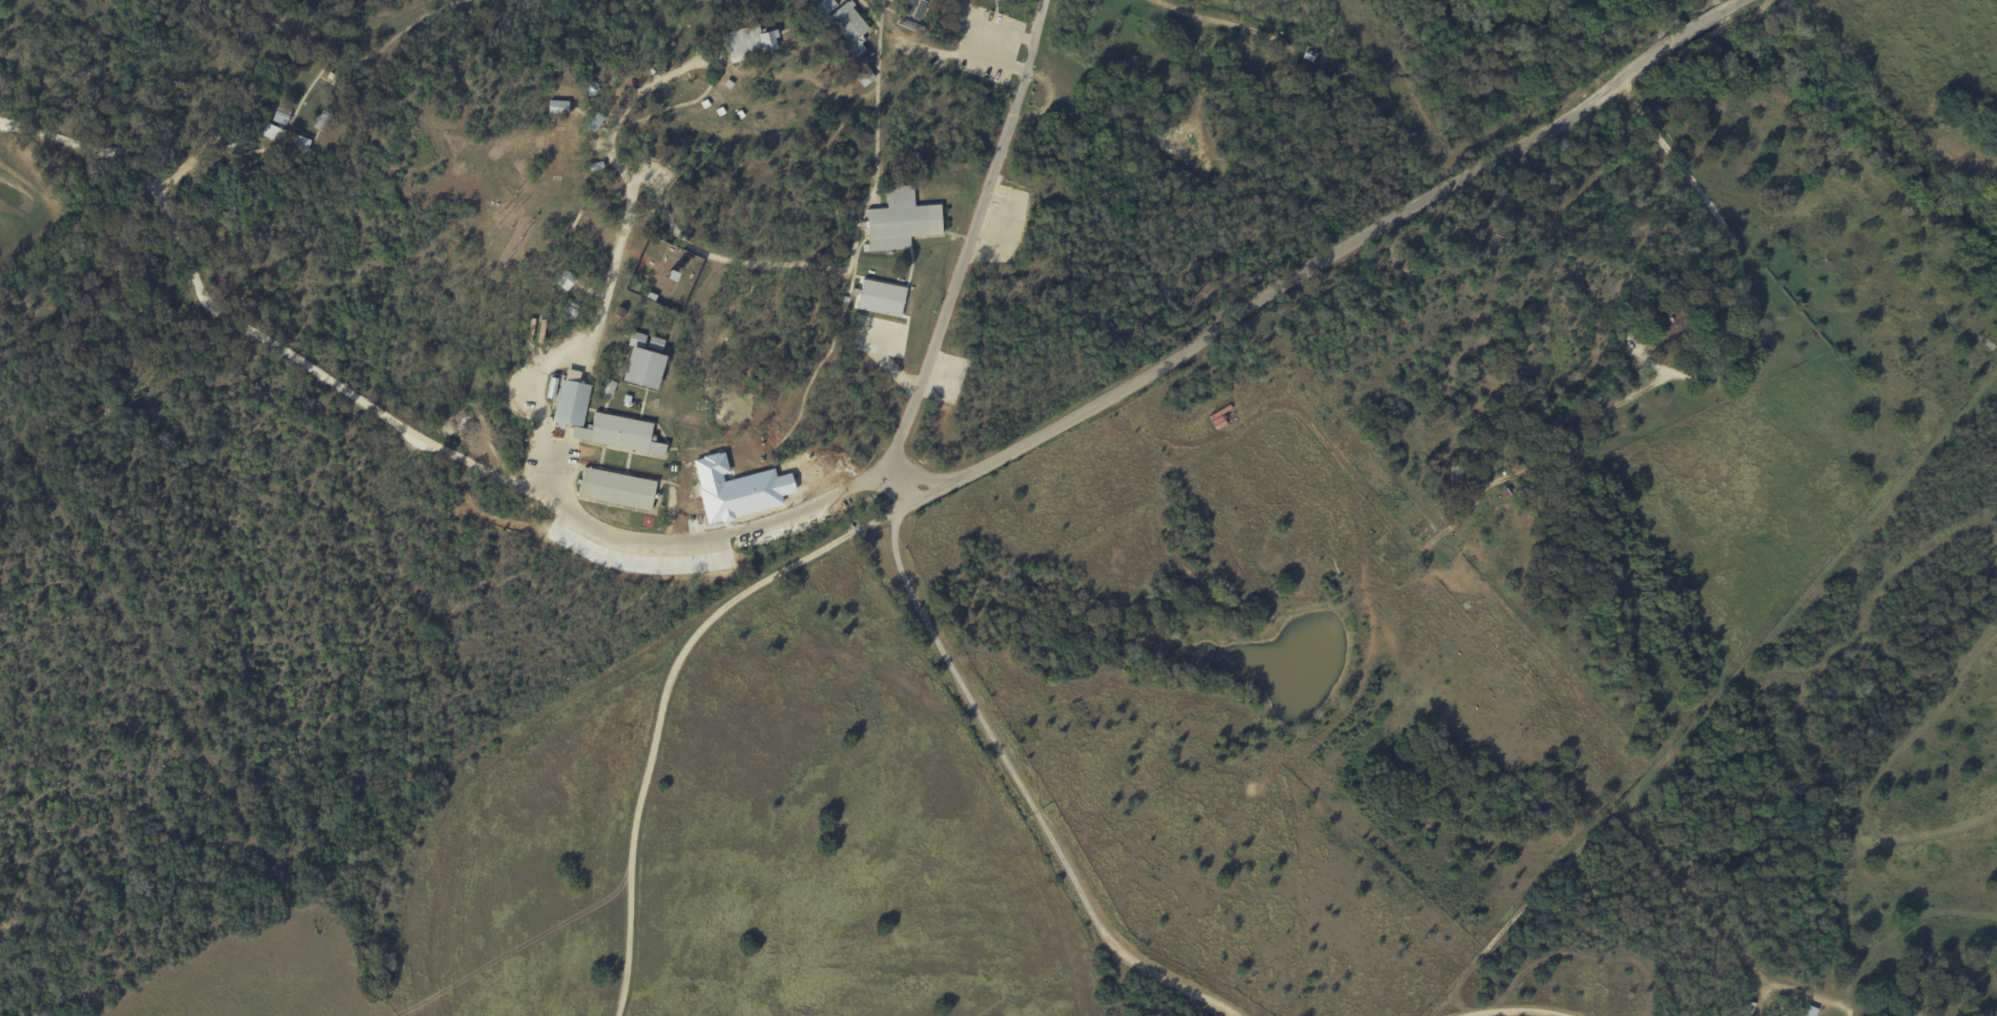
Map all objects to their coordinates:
building: (825, 7)
building: (909, 7)
road: (970, 27)
building: (850, 28)
building: (747, 42)
building: (865, 76)
building: (557, 107)
building: (281, 116)
building: (592, 122)
building: (274, 132)
building: (300, 142)
road: (1737, 191)
building: (900, 220)
road: (961, 238)
road: (1321, 263)
building: (566, 280)
building: (880, 297)
building: (1664, 325)
road: (250, 339)
building: (643, 361)
road: (1705, 374)
building: (608, 388)
building: (599, 420)
road: (531, 442)
building: (616, 489)
road: (1491, 632)
road: (664, 710)
road: (1025, 795)
building: (1809, 1011)

